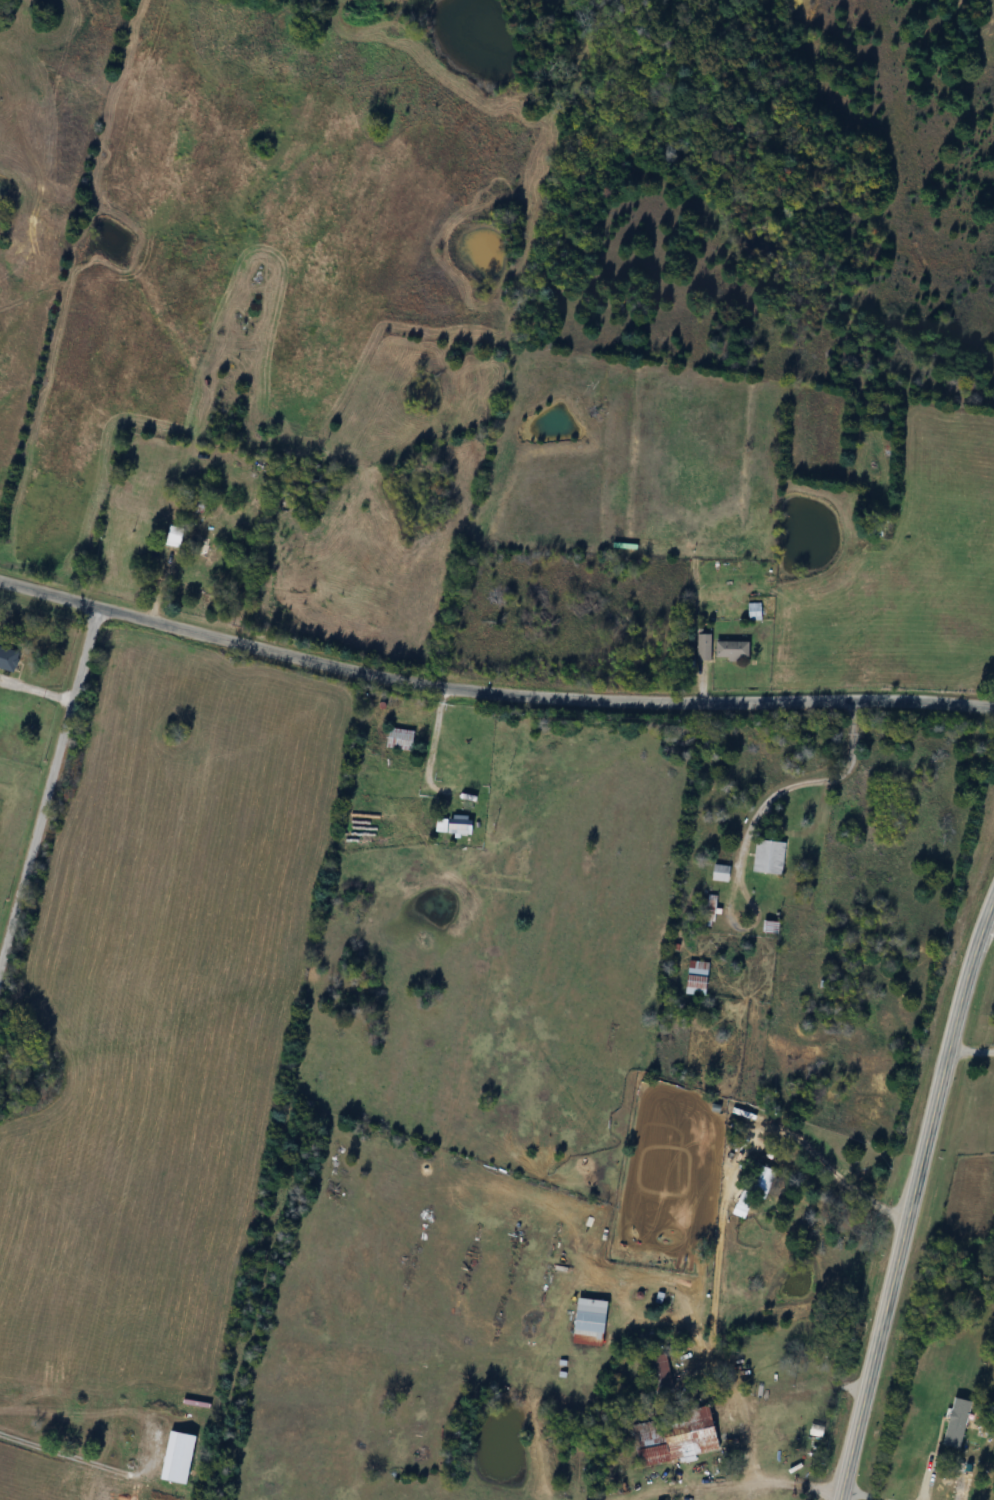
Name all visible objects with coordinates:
building: (174, 536)
building: (704, 647)
building: (732, 650)
building: (8, 659)
road: (35, 688)
road: (491, 694)
building: (401, 739)
road: (431, 781)
road: (47, 784)
road: (752, 816)
building: (456, 825)
building: (769, 857)
building: (722, 873)
building: (773, 927)
road: (988, 927)
building: (699, 978)
road: (970, 1049)
road: (832, 1168)
road: (912, 1196)
building: (745, 1204)
building: (593, 1321)
building: (661, 1372)
road: (741, 1422)
building: (817, 1432)
building: (679, 1439)
road: (64, 1451)
road: (867, 1494)

